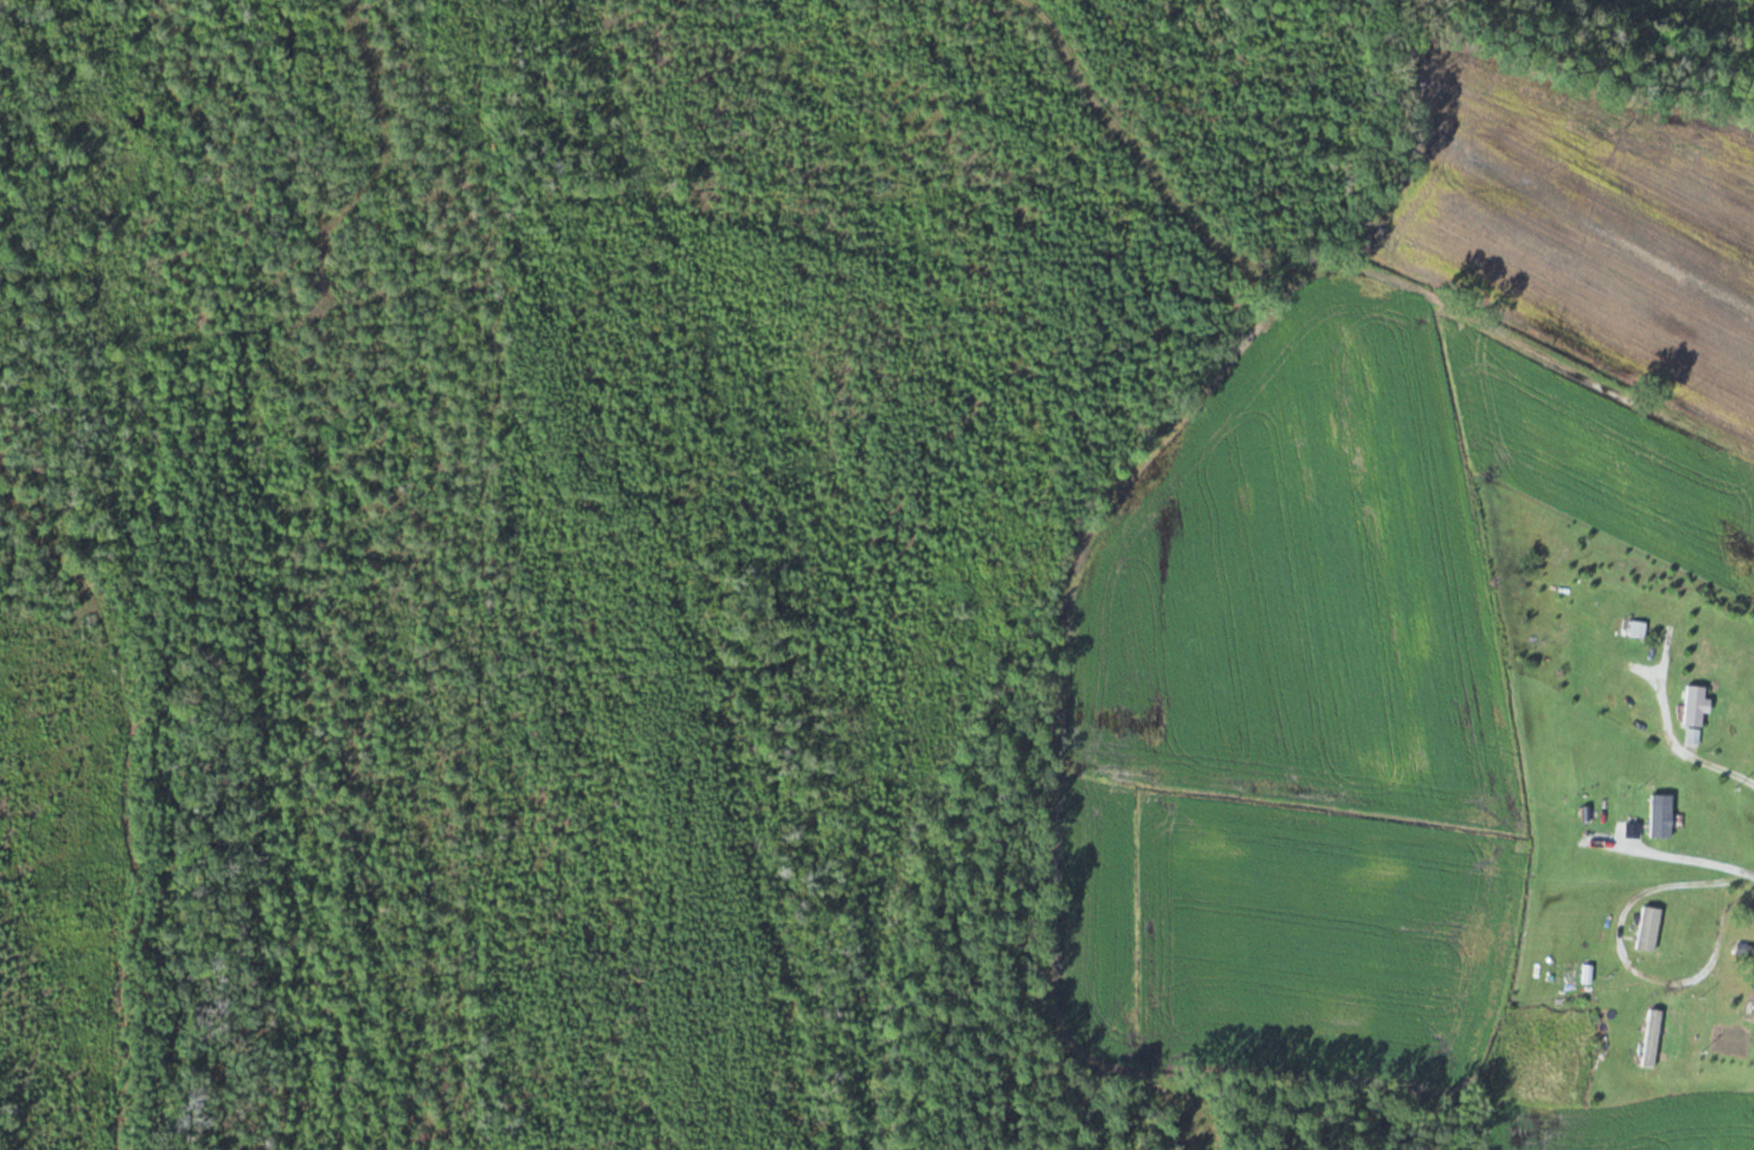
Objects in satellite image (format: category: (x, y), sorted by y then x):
river: (1601, 52)
building: (1695, 707)
building: (1695, 737)

